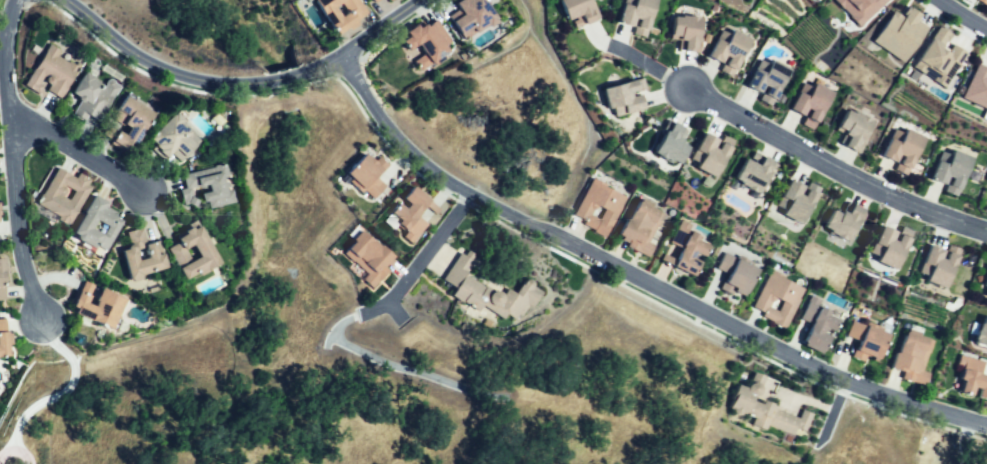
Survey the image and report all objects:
building: (372, 0)
building: (376, 0)
building: (386, 0)
building: (984, 0)
building: (391, 1)
building: (858, 8)
building: (580, 13)
building: (638, 13)
road: (963, 16)
building: (336, 17)
building: (475, 19)
building: (688, 31)
park: (215, 32)
building: (899, 33)
building: (430, 45)
building: (733, 48)
building: (937, 57)
road: (641, 61)
building: (56, 71)
building: (772, 77)
road: (239, 83)
building: (976, 87)
building: (96, 96)
building: (626, 99)
building: (815, 101)
building: (134, 126)
building: (854, 135)
building: (176, 140)
building: (674, 144)
road: (77, 155)
building: (711, 156)
building: (907, 156)
road: (13, 162)
building: (756, 173)
road: (832, 175)
building: (953, 175)
building: (366, 177)
building: (212, 190)
building: (54, 194)
building: (800, 202)
building: (601, 207)
building: (1, 211)
building: (411, 216)
building: (87, 224)
building: (847, 224)
building: (641, 227)
building: (688, 249)
building: (891, 249)
building: (158, 257)
building: (209, 257)
building: (368, 261)
building: (941, 267)
building: (736, 275)
road: (638, 278)
building: (4, 280)
building: (986, 292)
building: (486, 293)
building: (780, 298)
building: (103, 307)
building: (820, 325)
road: (349, 326)
building: (983, 335)
building: (868, 341)
building: (6, 343)
building: (913, 357)
building: (972, 377)
road: (56, 396)
building: (766, 414)
road: (965, 442)

